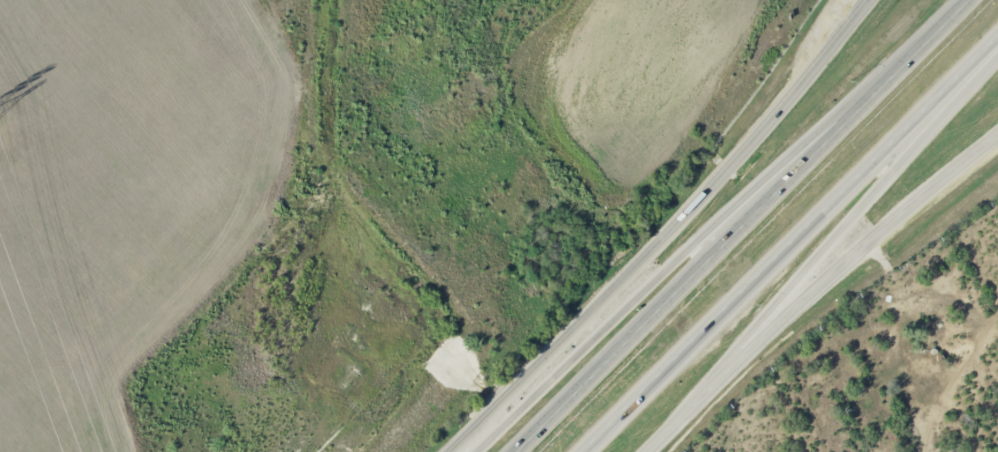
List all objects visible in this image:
road: (862, 8)
road: (956, 12)
road: (721, 37)
road: (680, 64)
road: (807, 74)
road: (843, 226)
road: (706, 233)
road: (728, 238)
road: (792, 244)
road: (818, 286)
road: (604, 294)

